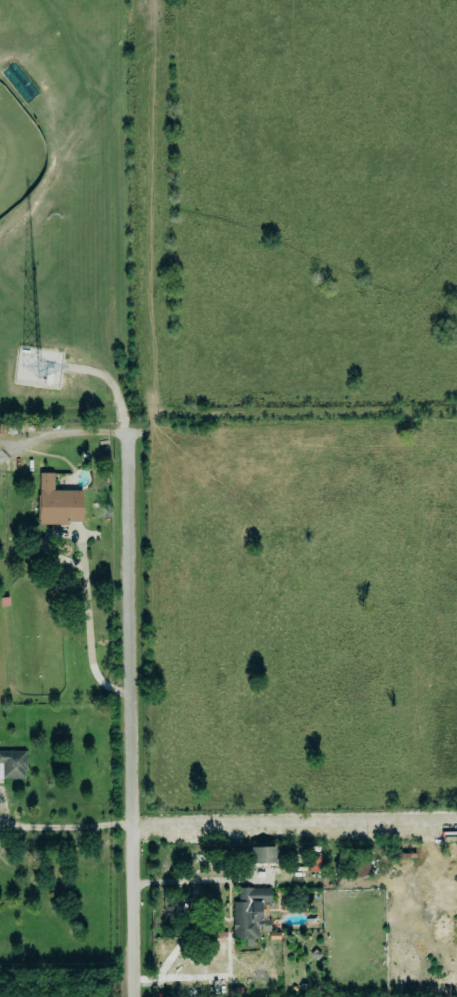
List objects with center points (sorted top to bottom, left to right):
park: (17, 152)
park: (65, 204)
road: (62, 432)
building: (57, 503)
road: (86, 626)
road: (128, 713)
building: (12, 765)
road: (293, 820)
road: (65, 826)
building: (261, 855)
building: (361, 863)
road: (195, 884)
building: (249, 912)

